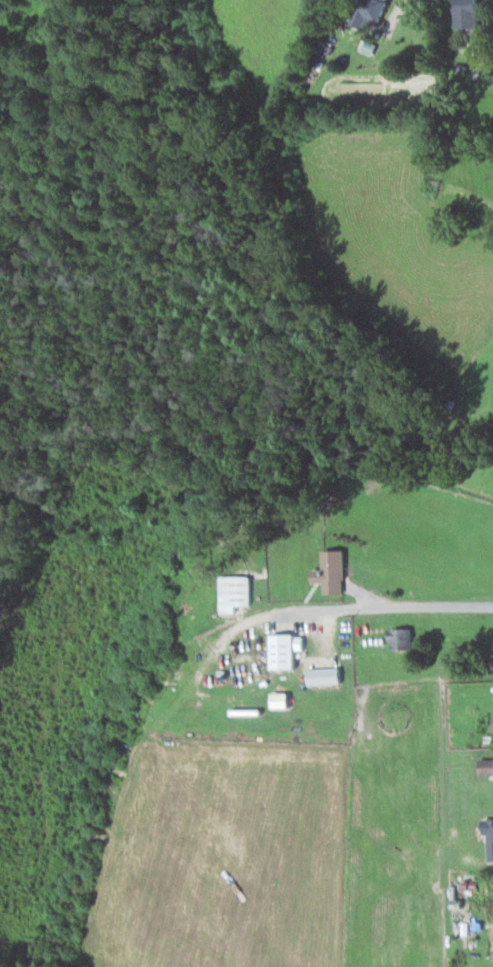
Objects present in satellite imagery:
building: (375, 11)
building: (470, 13)
building: (334, 570)
building: (237, 592)
road: (358, 605)
building: (403, 636)
building: (289, 649)
building: (328, 675)
building: (284, 699)
building: (487, 766)

